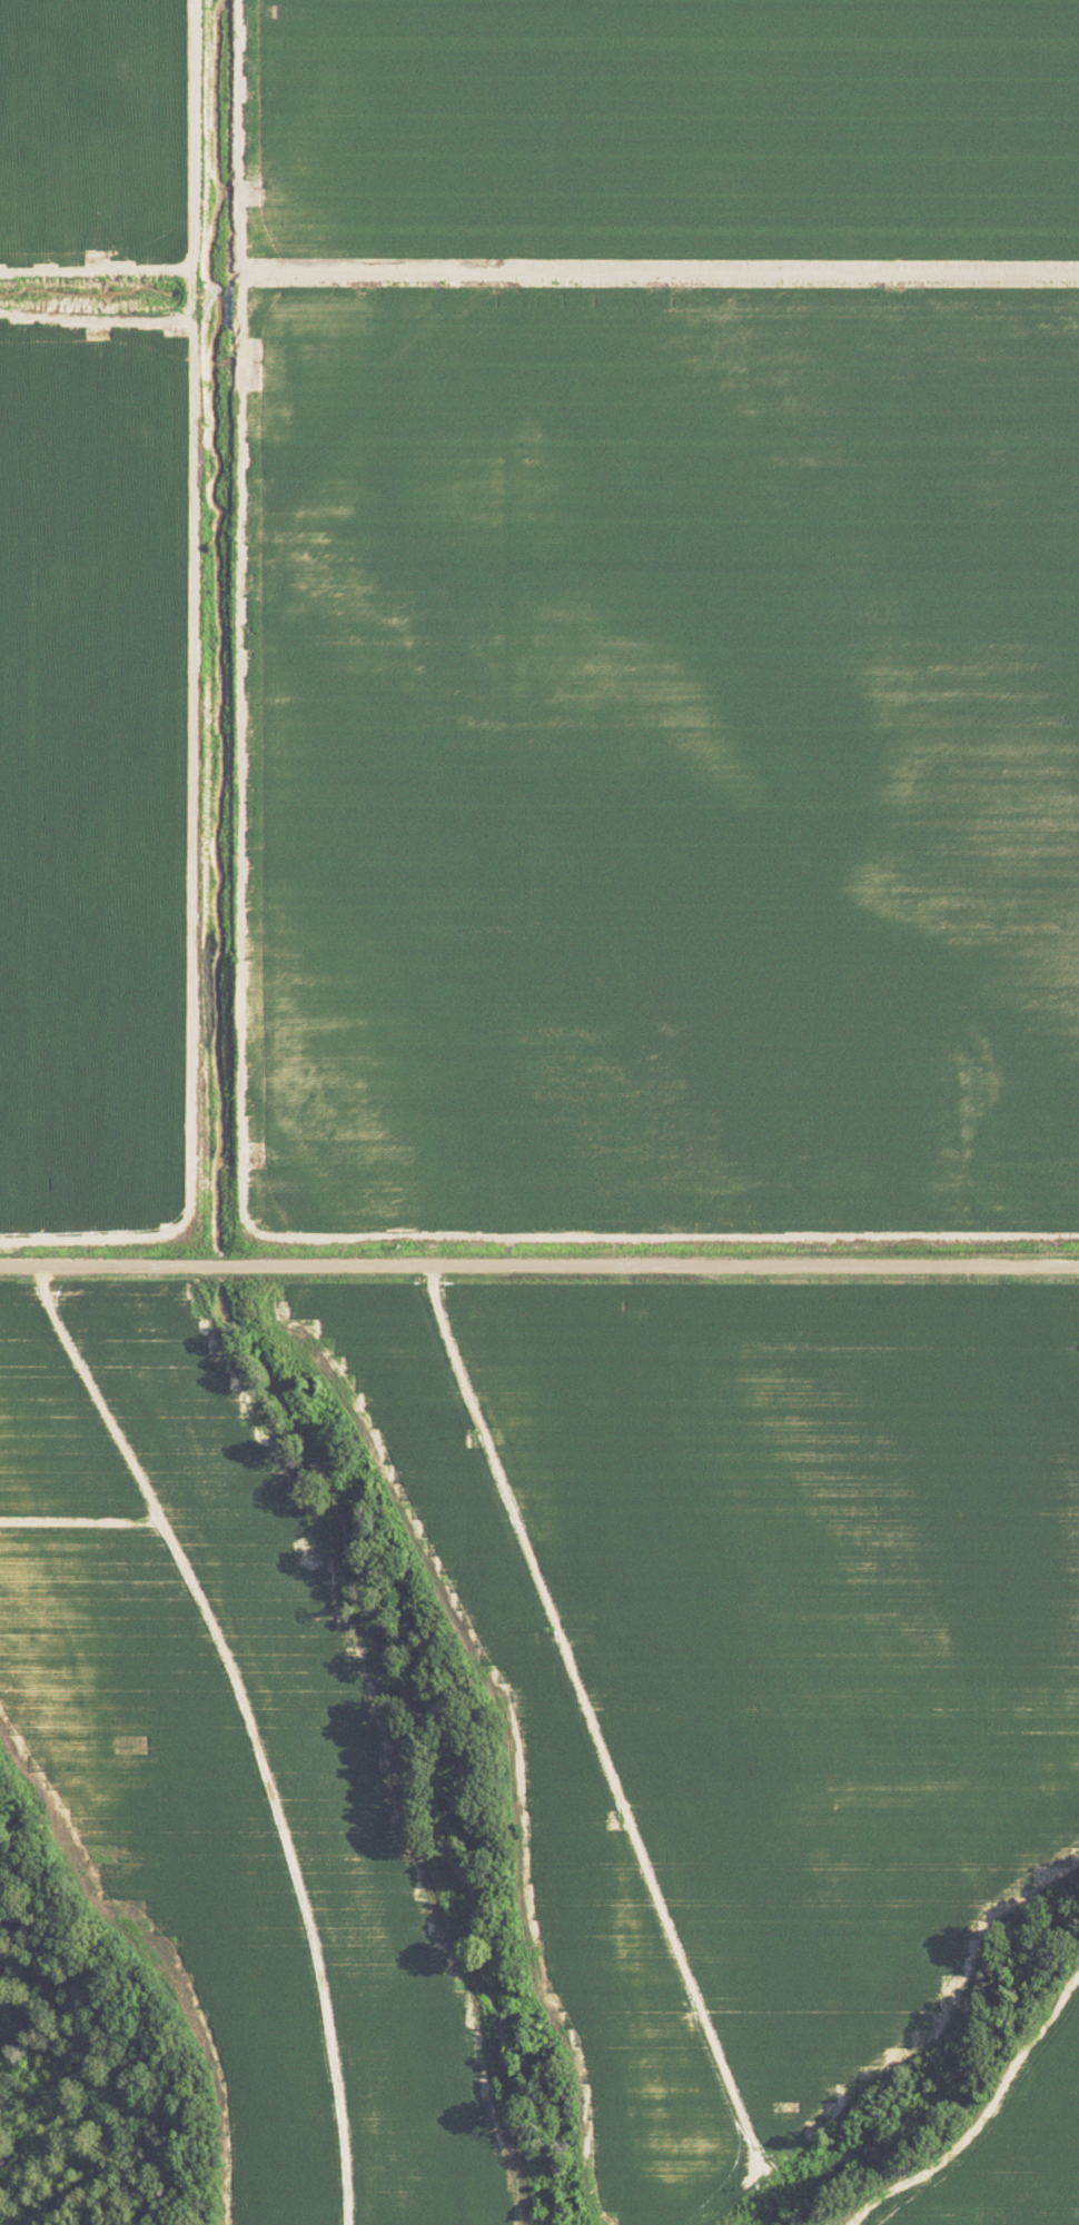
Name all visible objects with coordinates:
road: (12, 1221)
road: (538, 1268)

